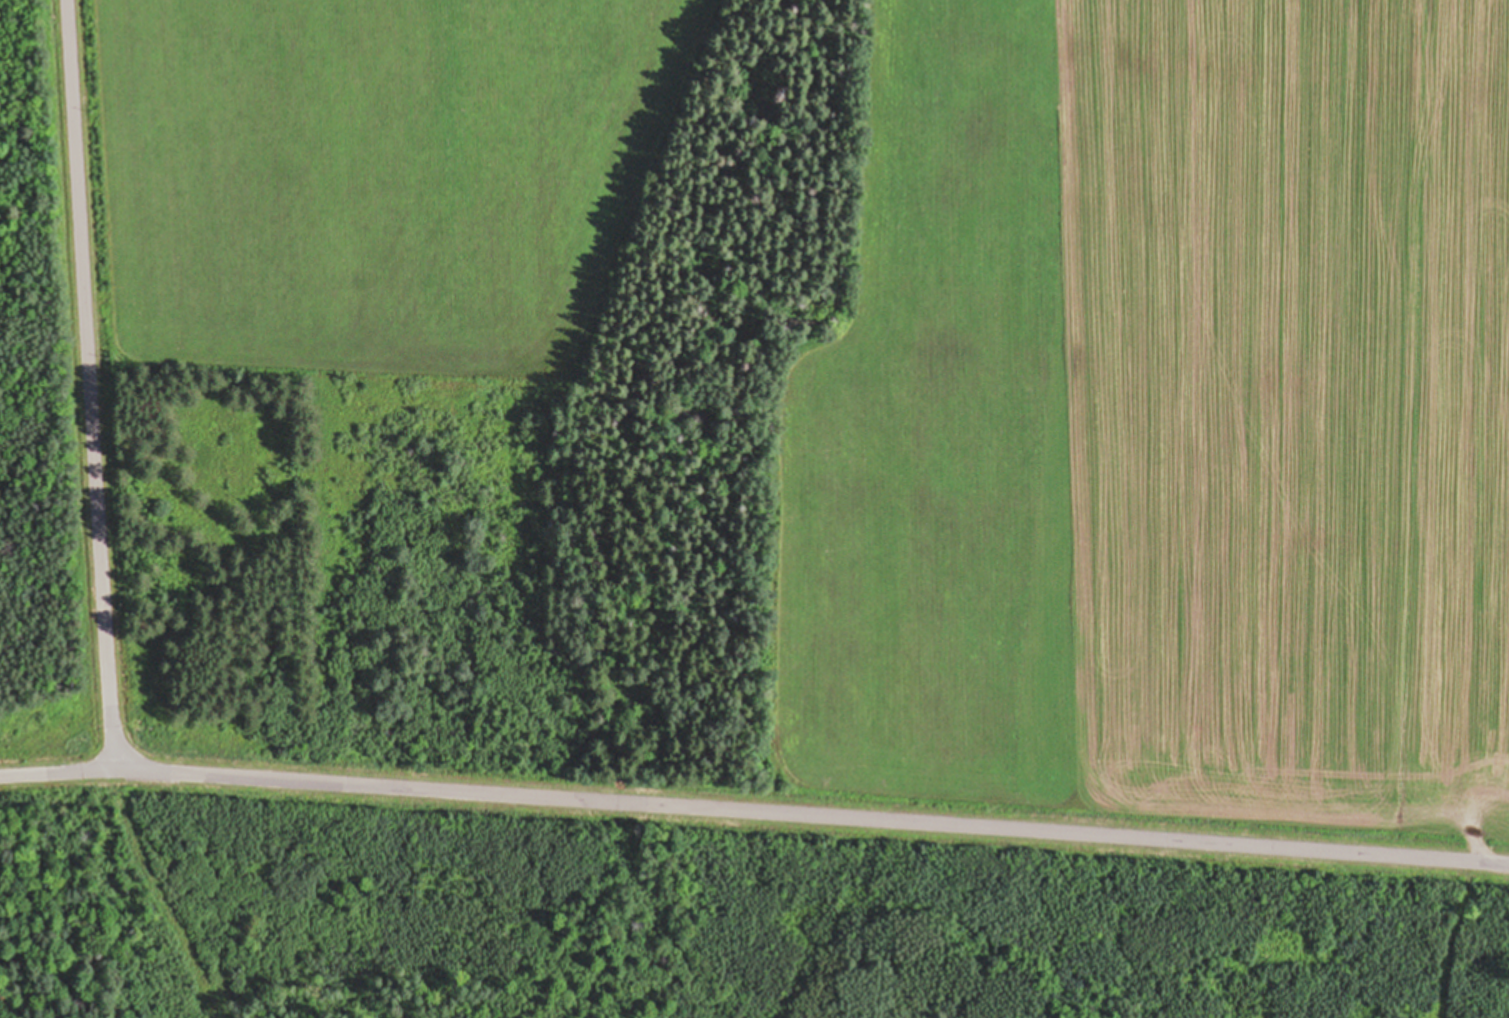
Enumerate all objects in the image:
road: (90, 384)
road: (57, 770)
road: (812, 813)

